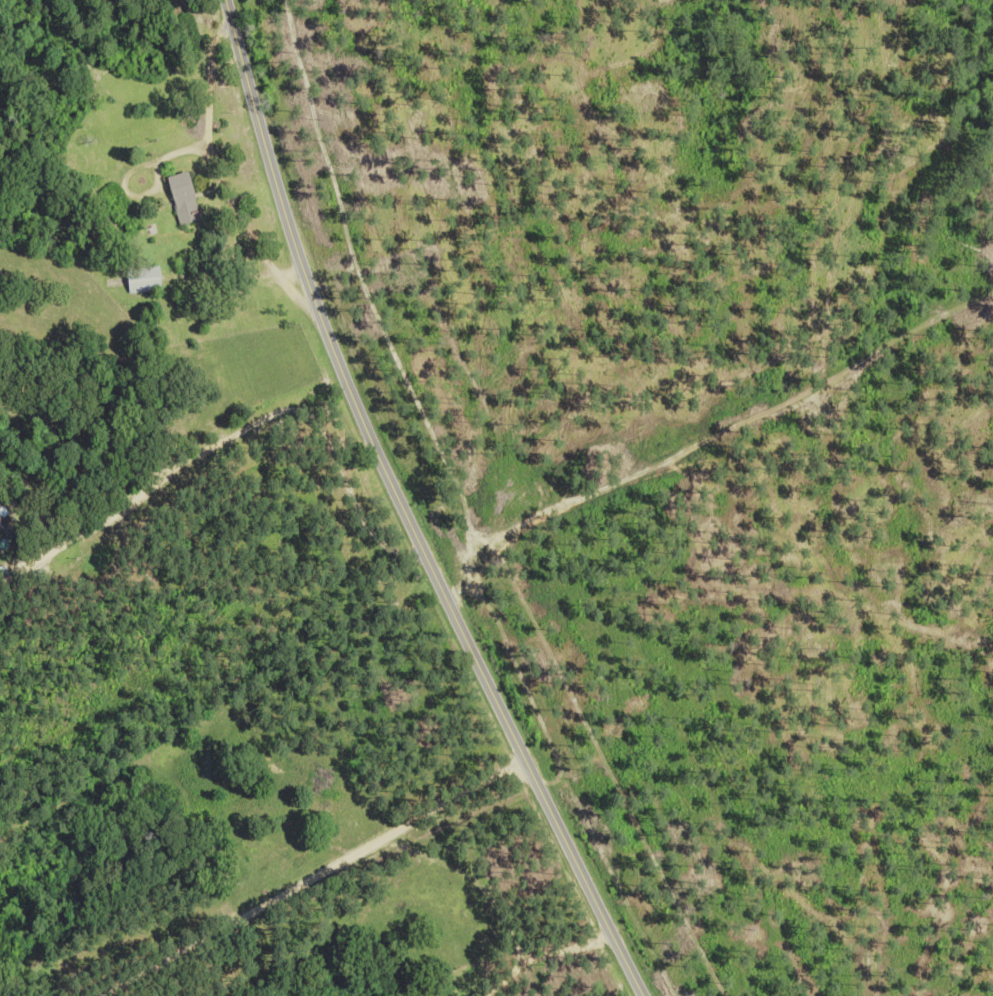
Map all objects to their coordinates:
building: (184, 198)
building: (144, 279)
road: (401, 510)
road: (308, 877)
road: (544, 958)

